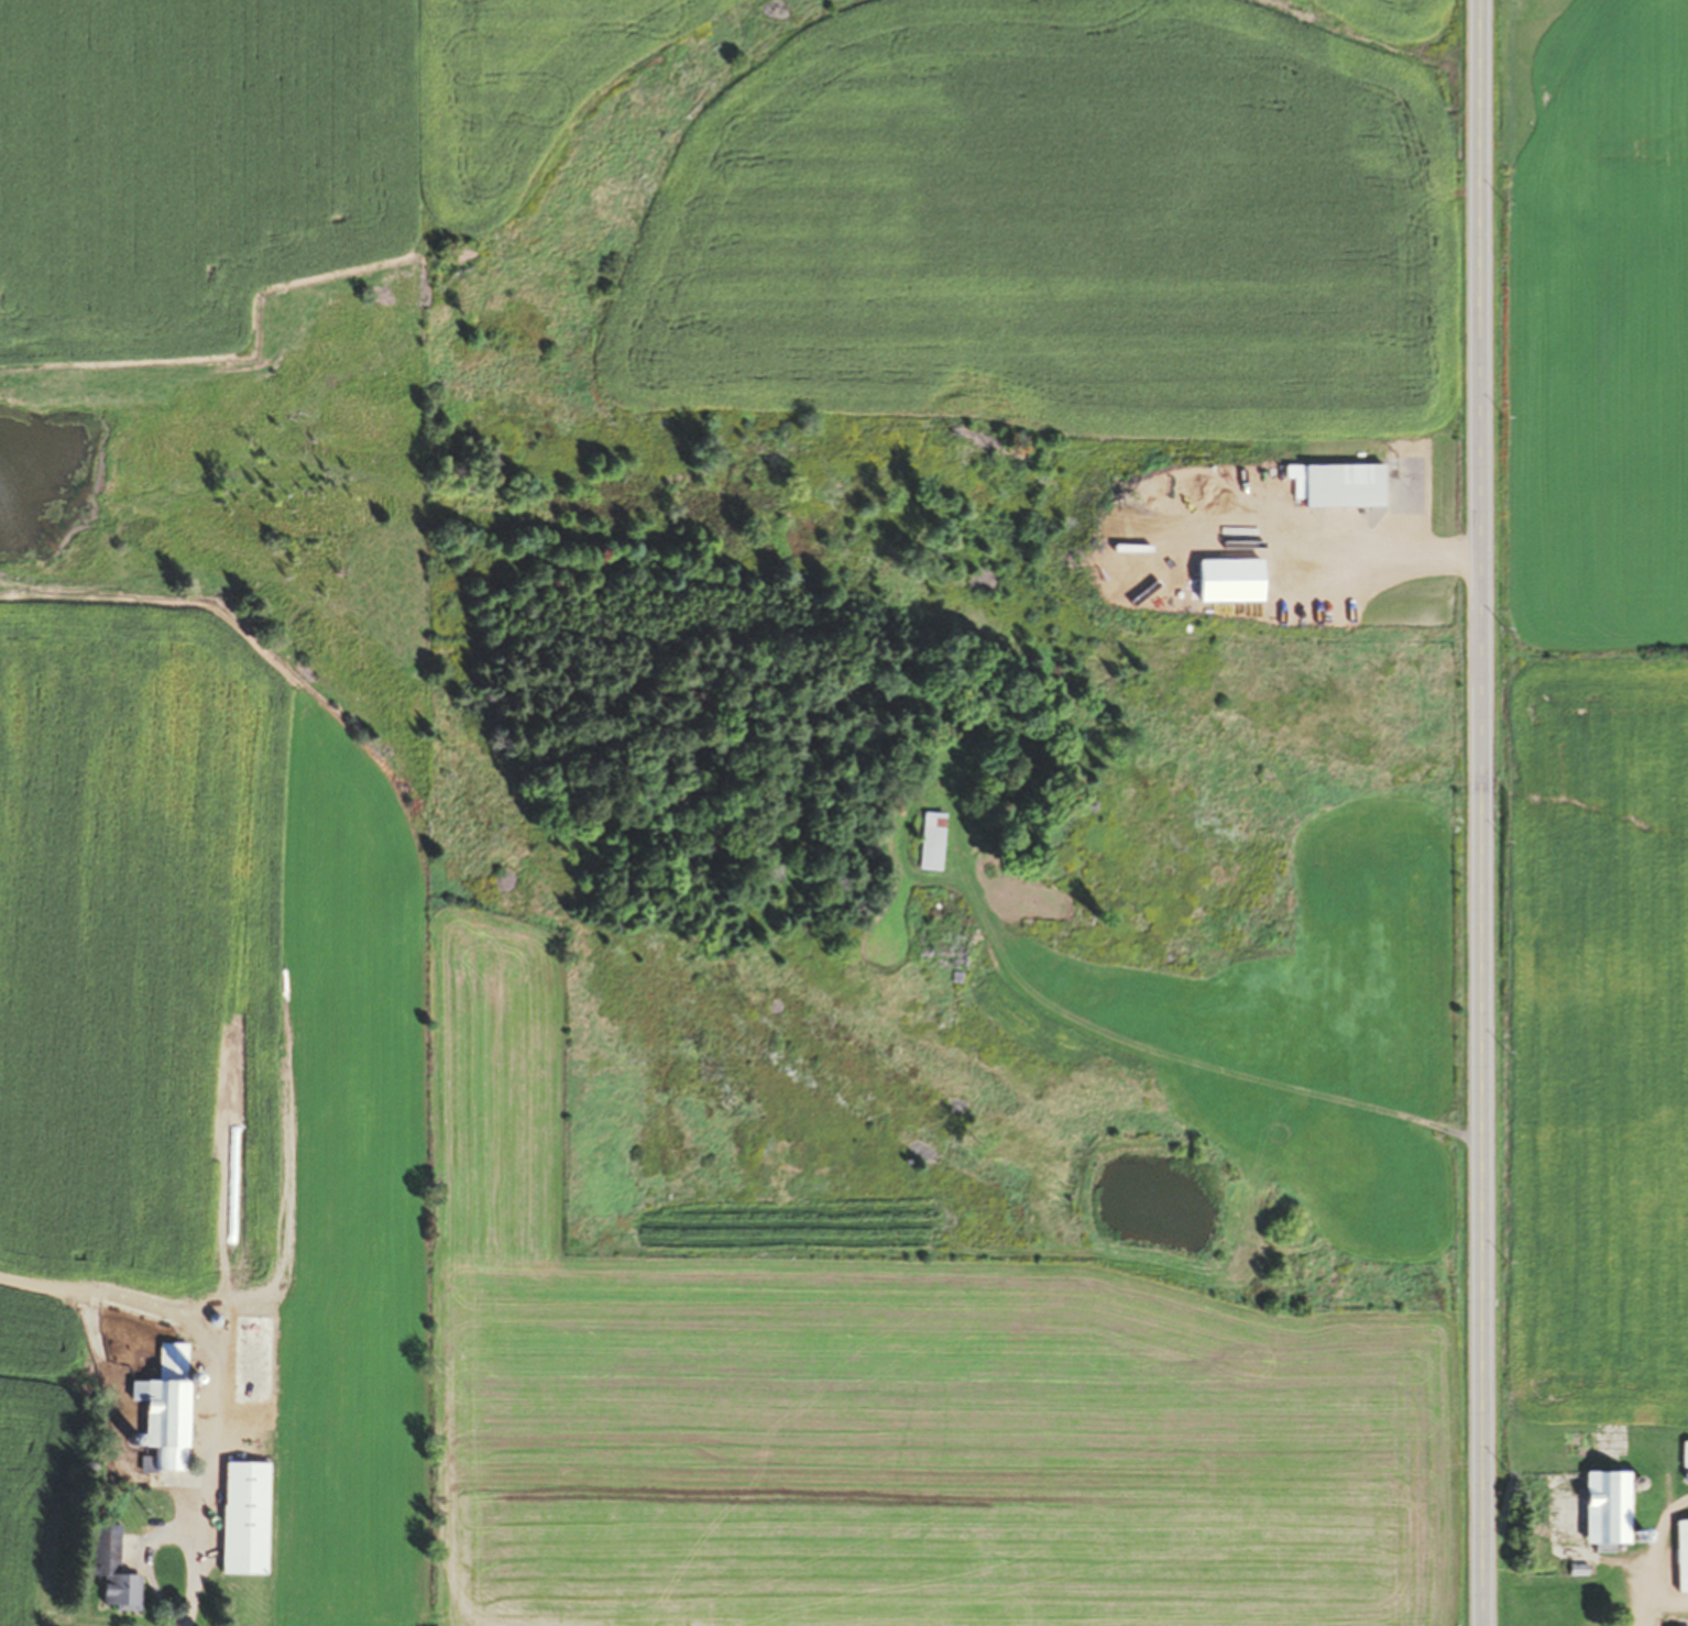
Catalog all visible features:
building: (1340, 486)
road: (1479, 813)
building: (930, 841)
building: (249, 1359)
building: (163, 1409)
building: (1684, 1453)
building: (1603, 1505)
building: (242, 1517)
building: (1680, 1556)
building: (110, 1570)

